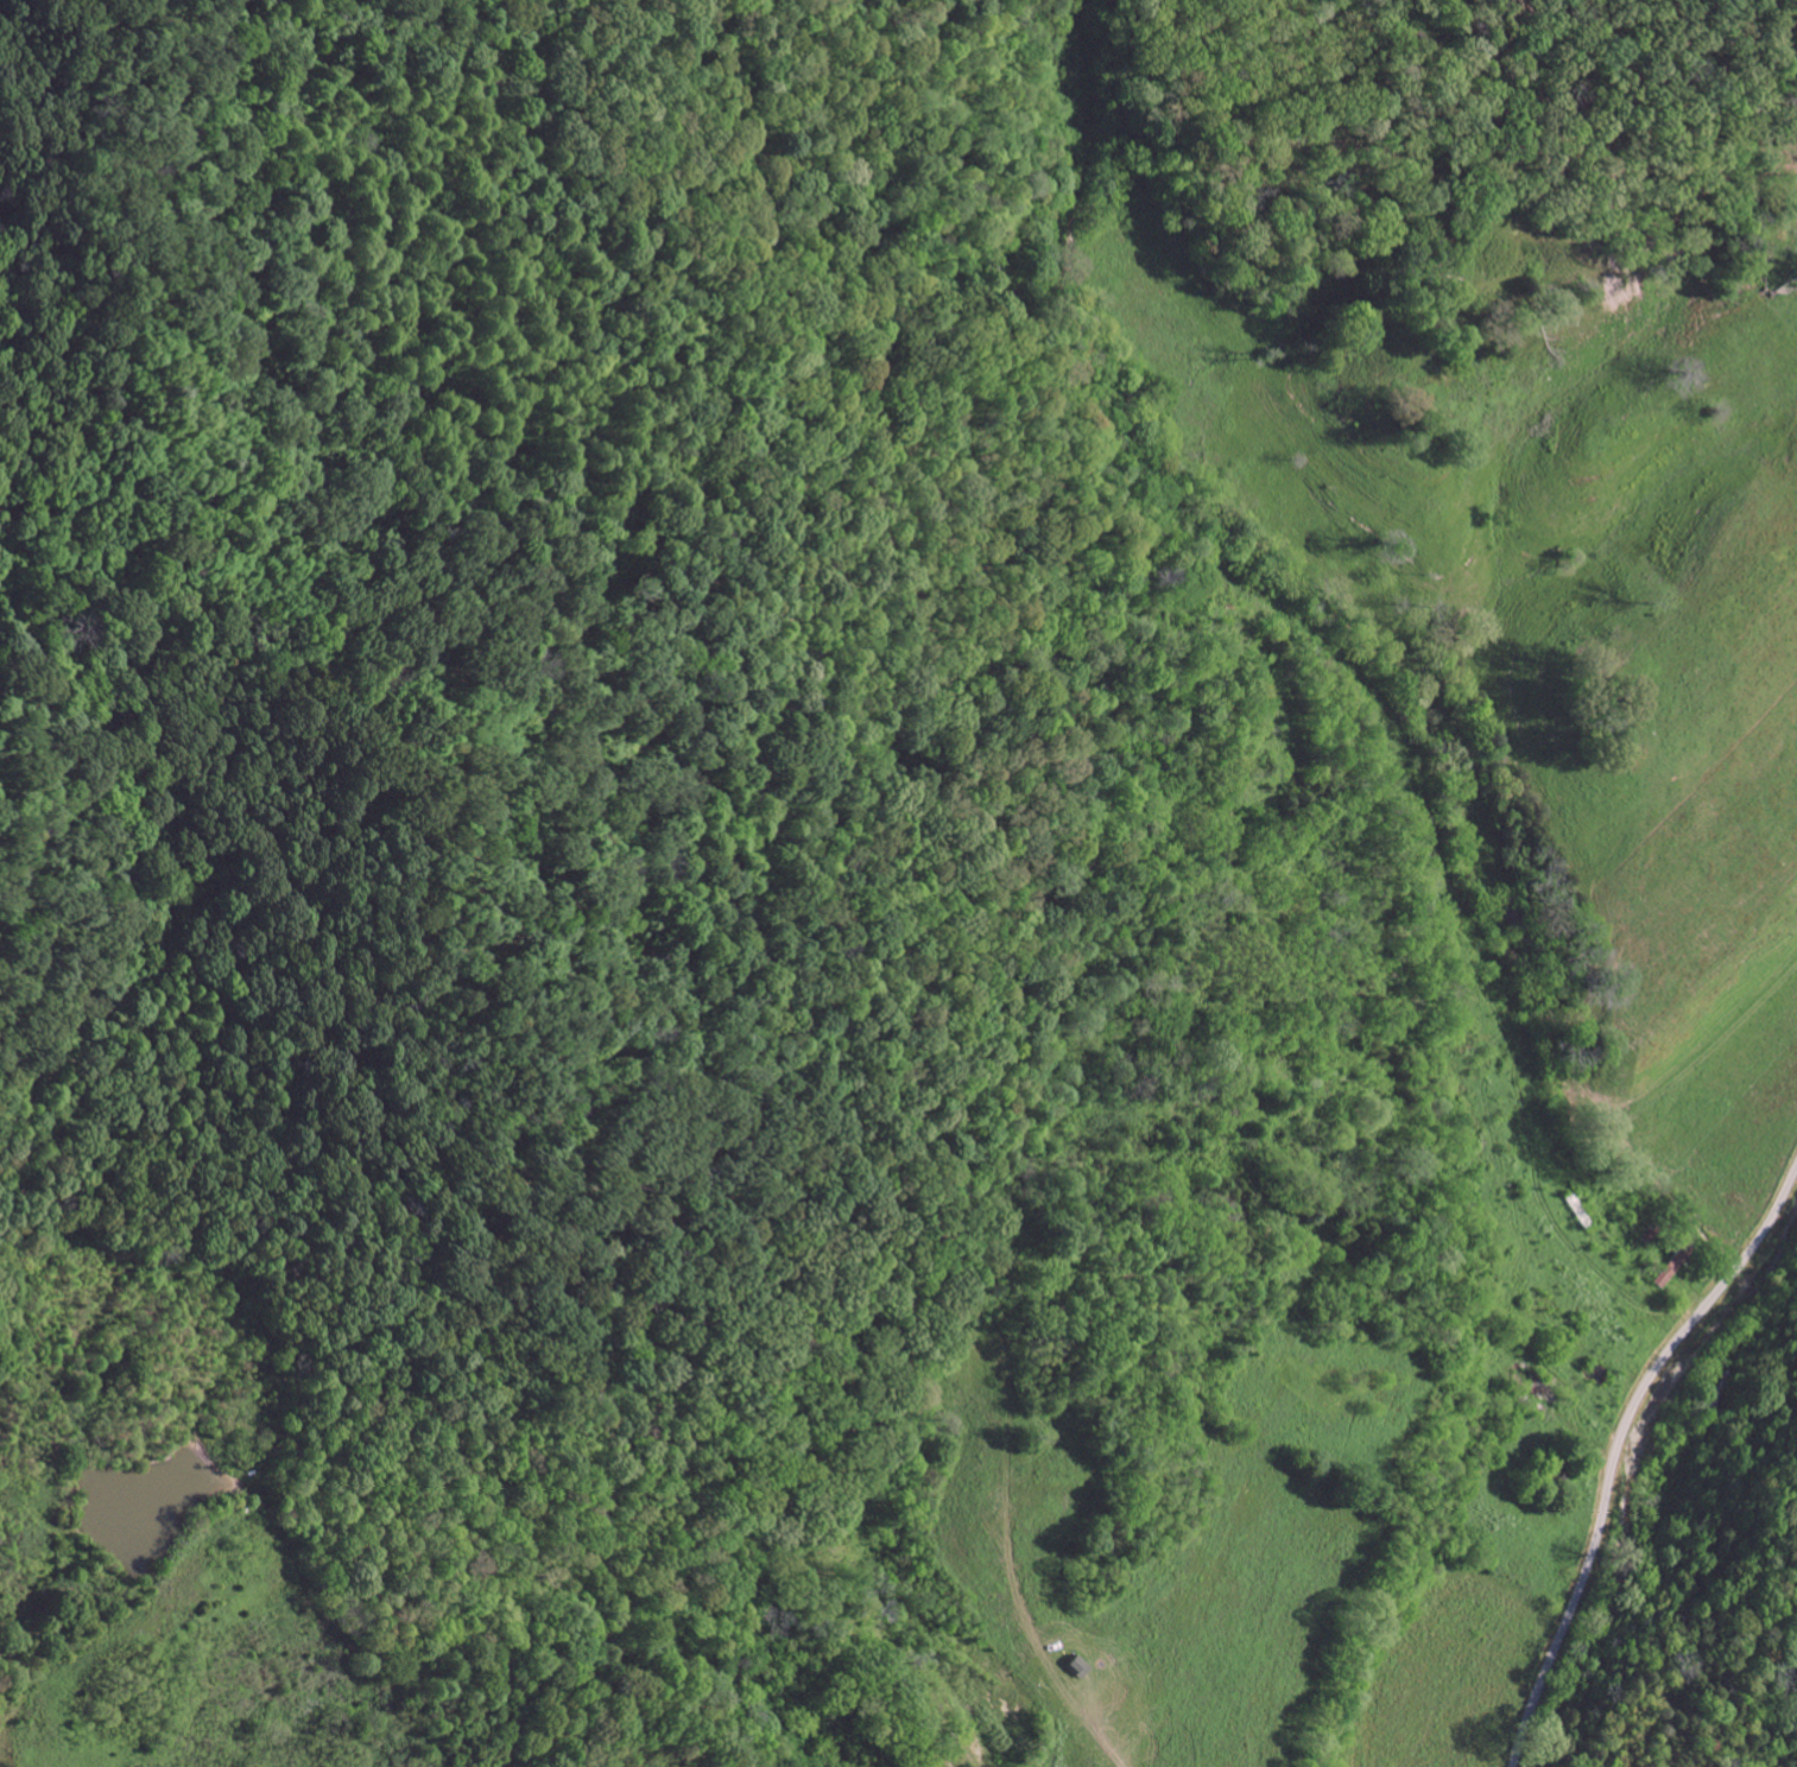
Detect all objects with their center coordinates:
road: (1616, 1446)

